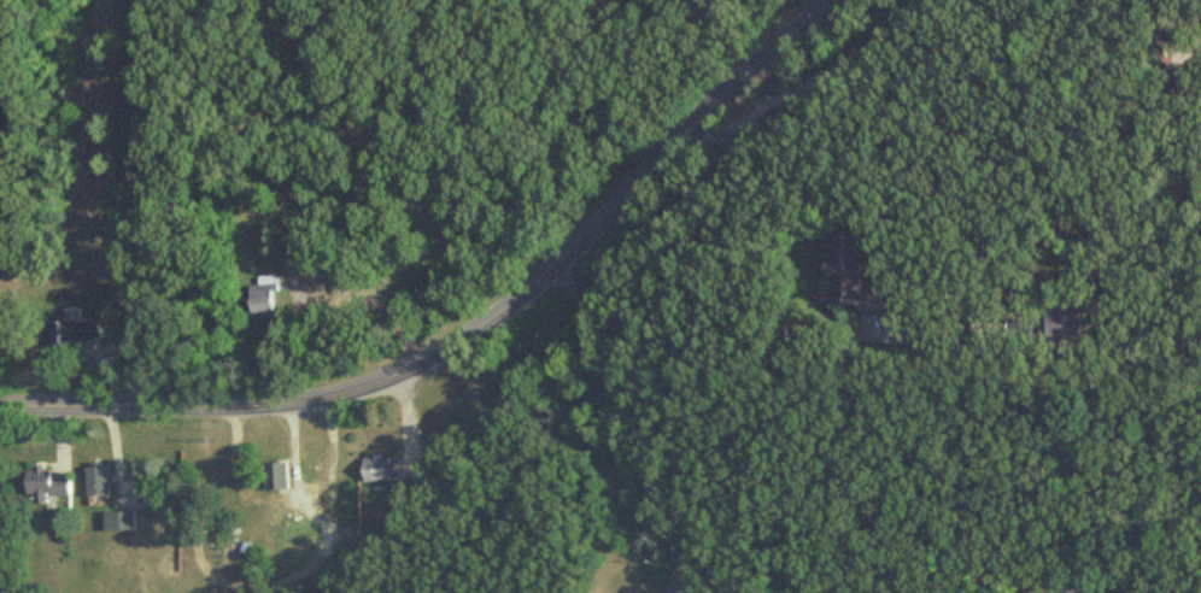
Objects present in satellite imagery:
road: (1178, 6)
building: (1183, 75)
road: (935, 96)
building: (851, 278)
building: (262, 296)
road: (475, 328)
building: (1064, 328)
building: (68, 335)
road: (927, 352)
road: (622, 424)
building: (375, 468)
building: (275, 476)
building: (96, 480)
building: (46, 483)
building: (117, 521)

